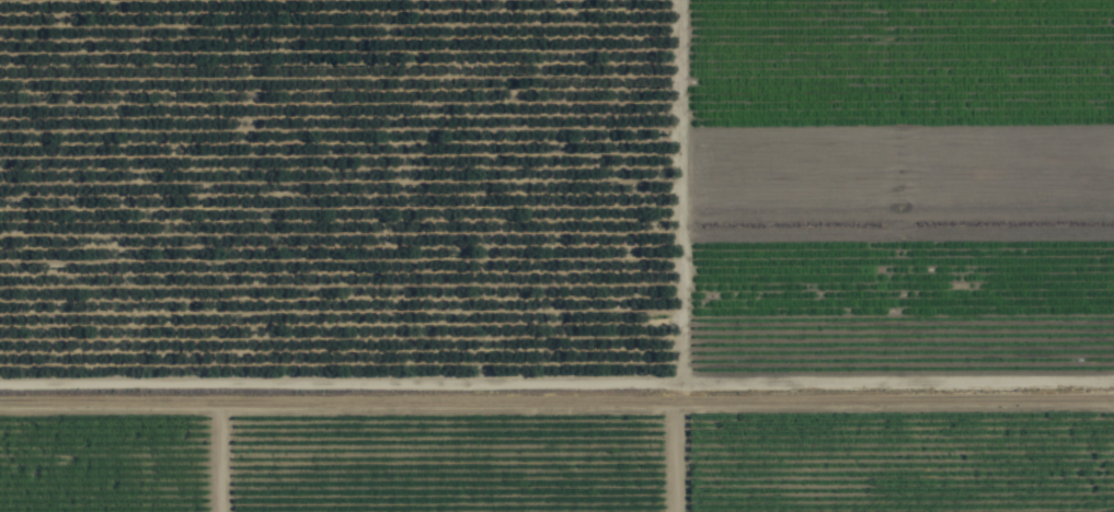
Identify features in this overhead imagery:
crop: (556, 256)
road: (556, 385)

